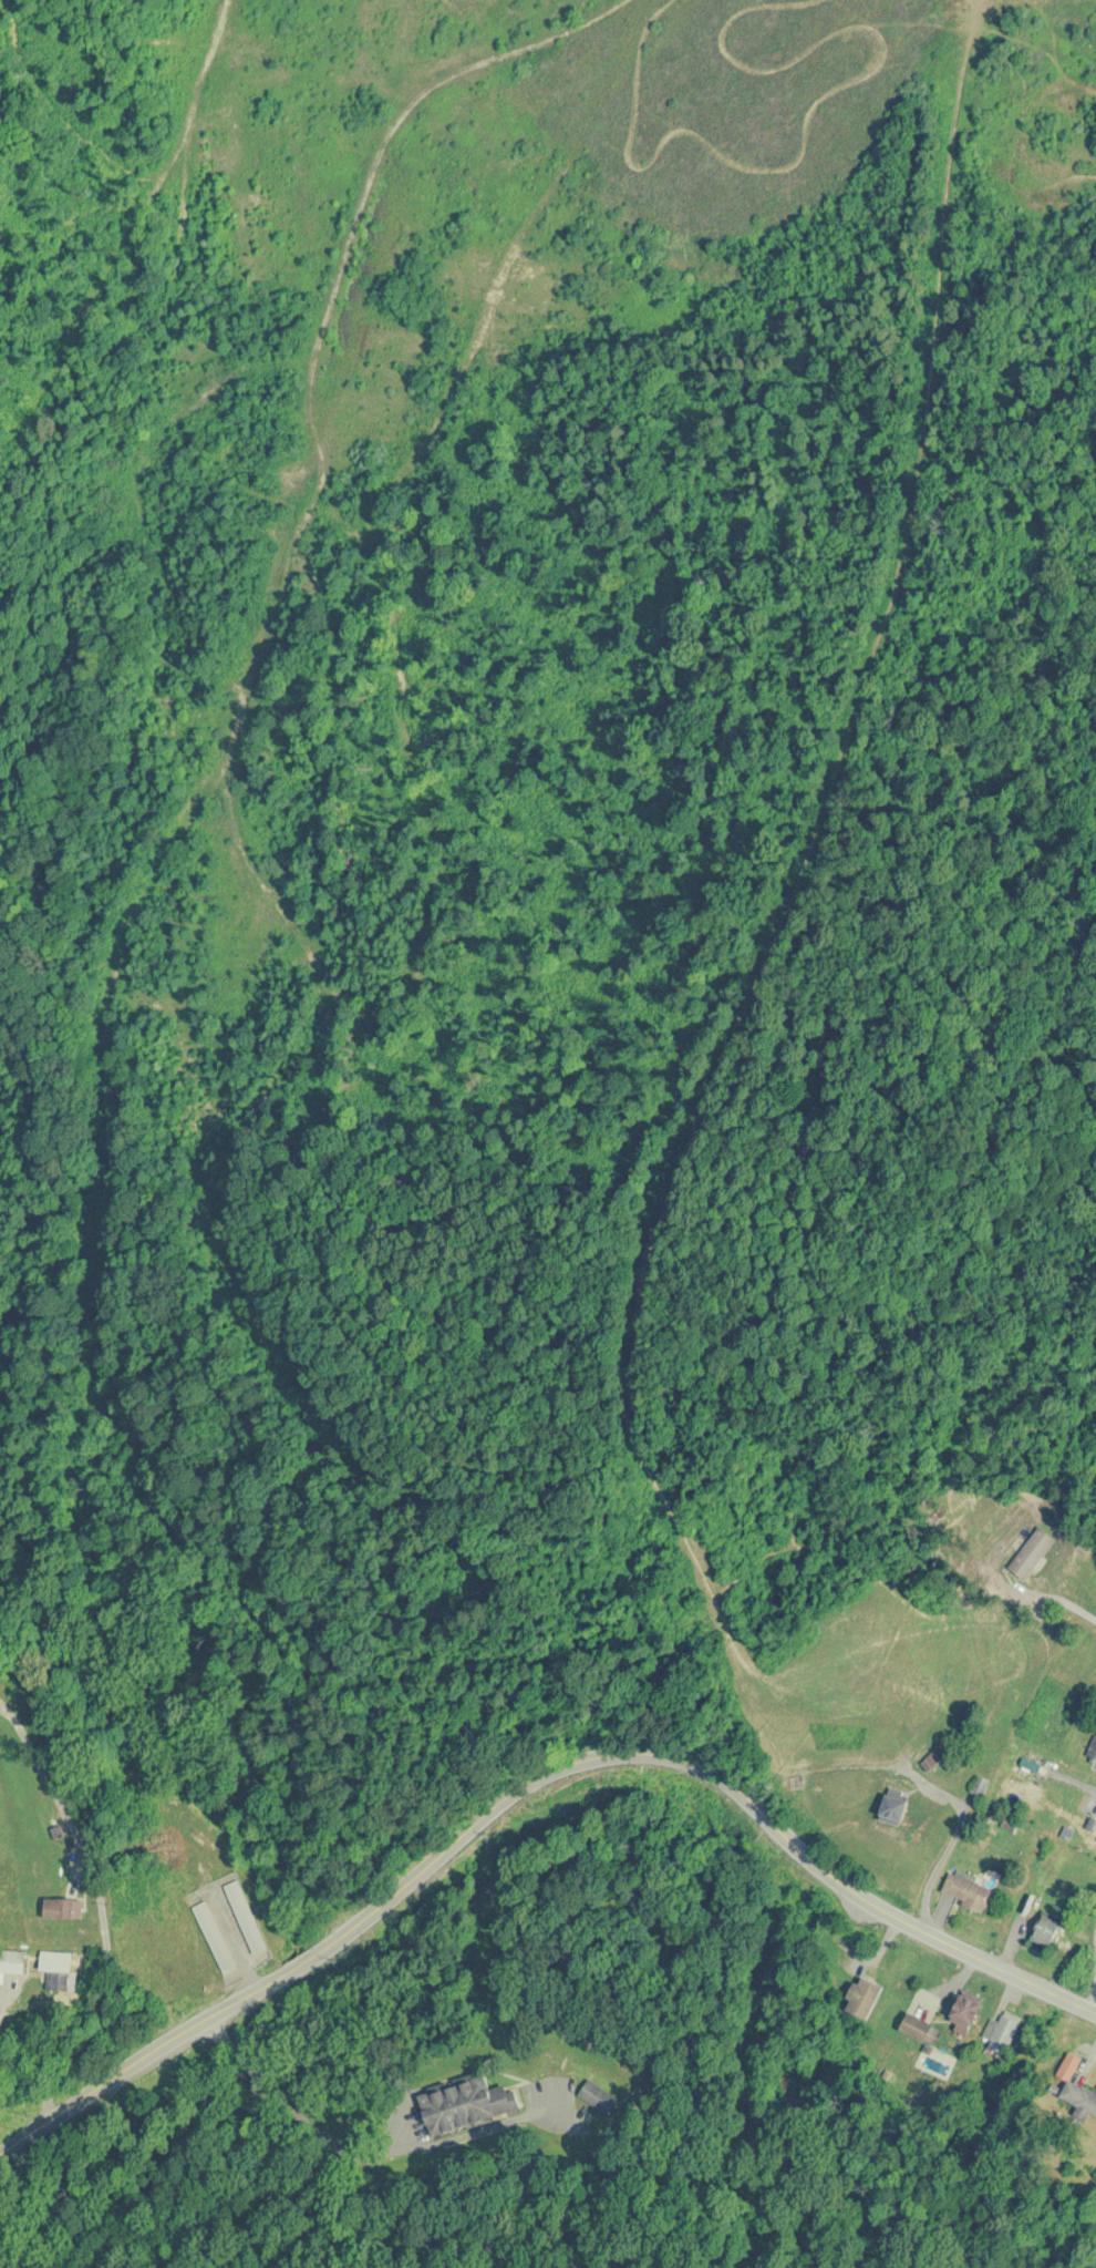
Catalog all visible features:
building: (1093, 1748)
building: (928, 1763)
road: (530, 1784)
building: (979, 1786)
building: (893, 1808)
road: (944, 1853)
building: (970, 1892)
building: (58, 1910)
road: (101, 1915)
building: (245, 1917)
building: (1044, 1932)
building: (214, 1937)
building: (12, 1961)
building: (60, 1980)
road: (3, 1995)
building: (862, 1997)
road: (1094, 2005)
building: (964, 2010)
building: (916, 2026)
building: (1005, 2029)
building: (597, 2096)
building: (1079, 2096)
building: (466, 2104)
road: (349, 2156)

